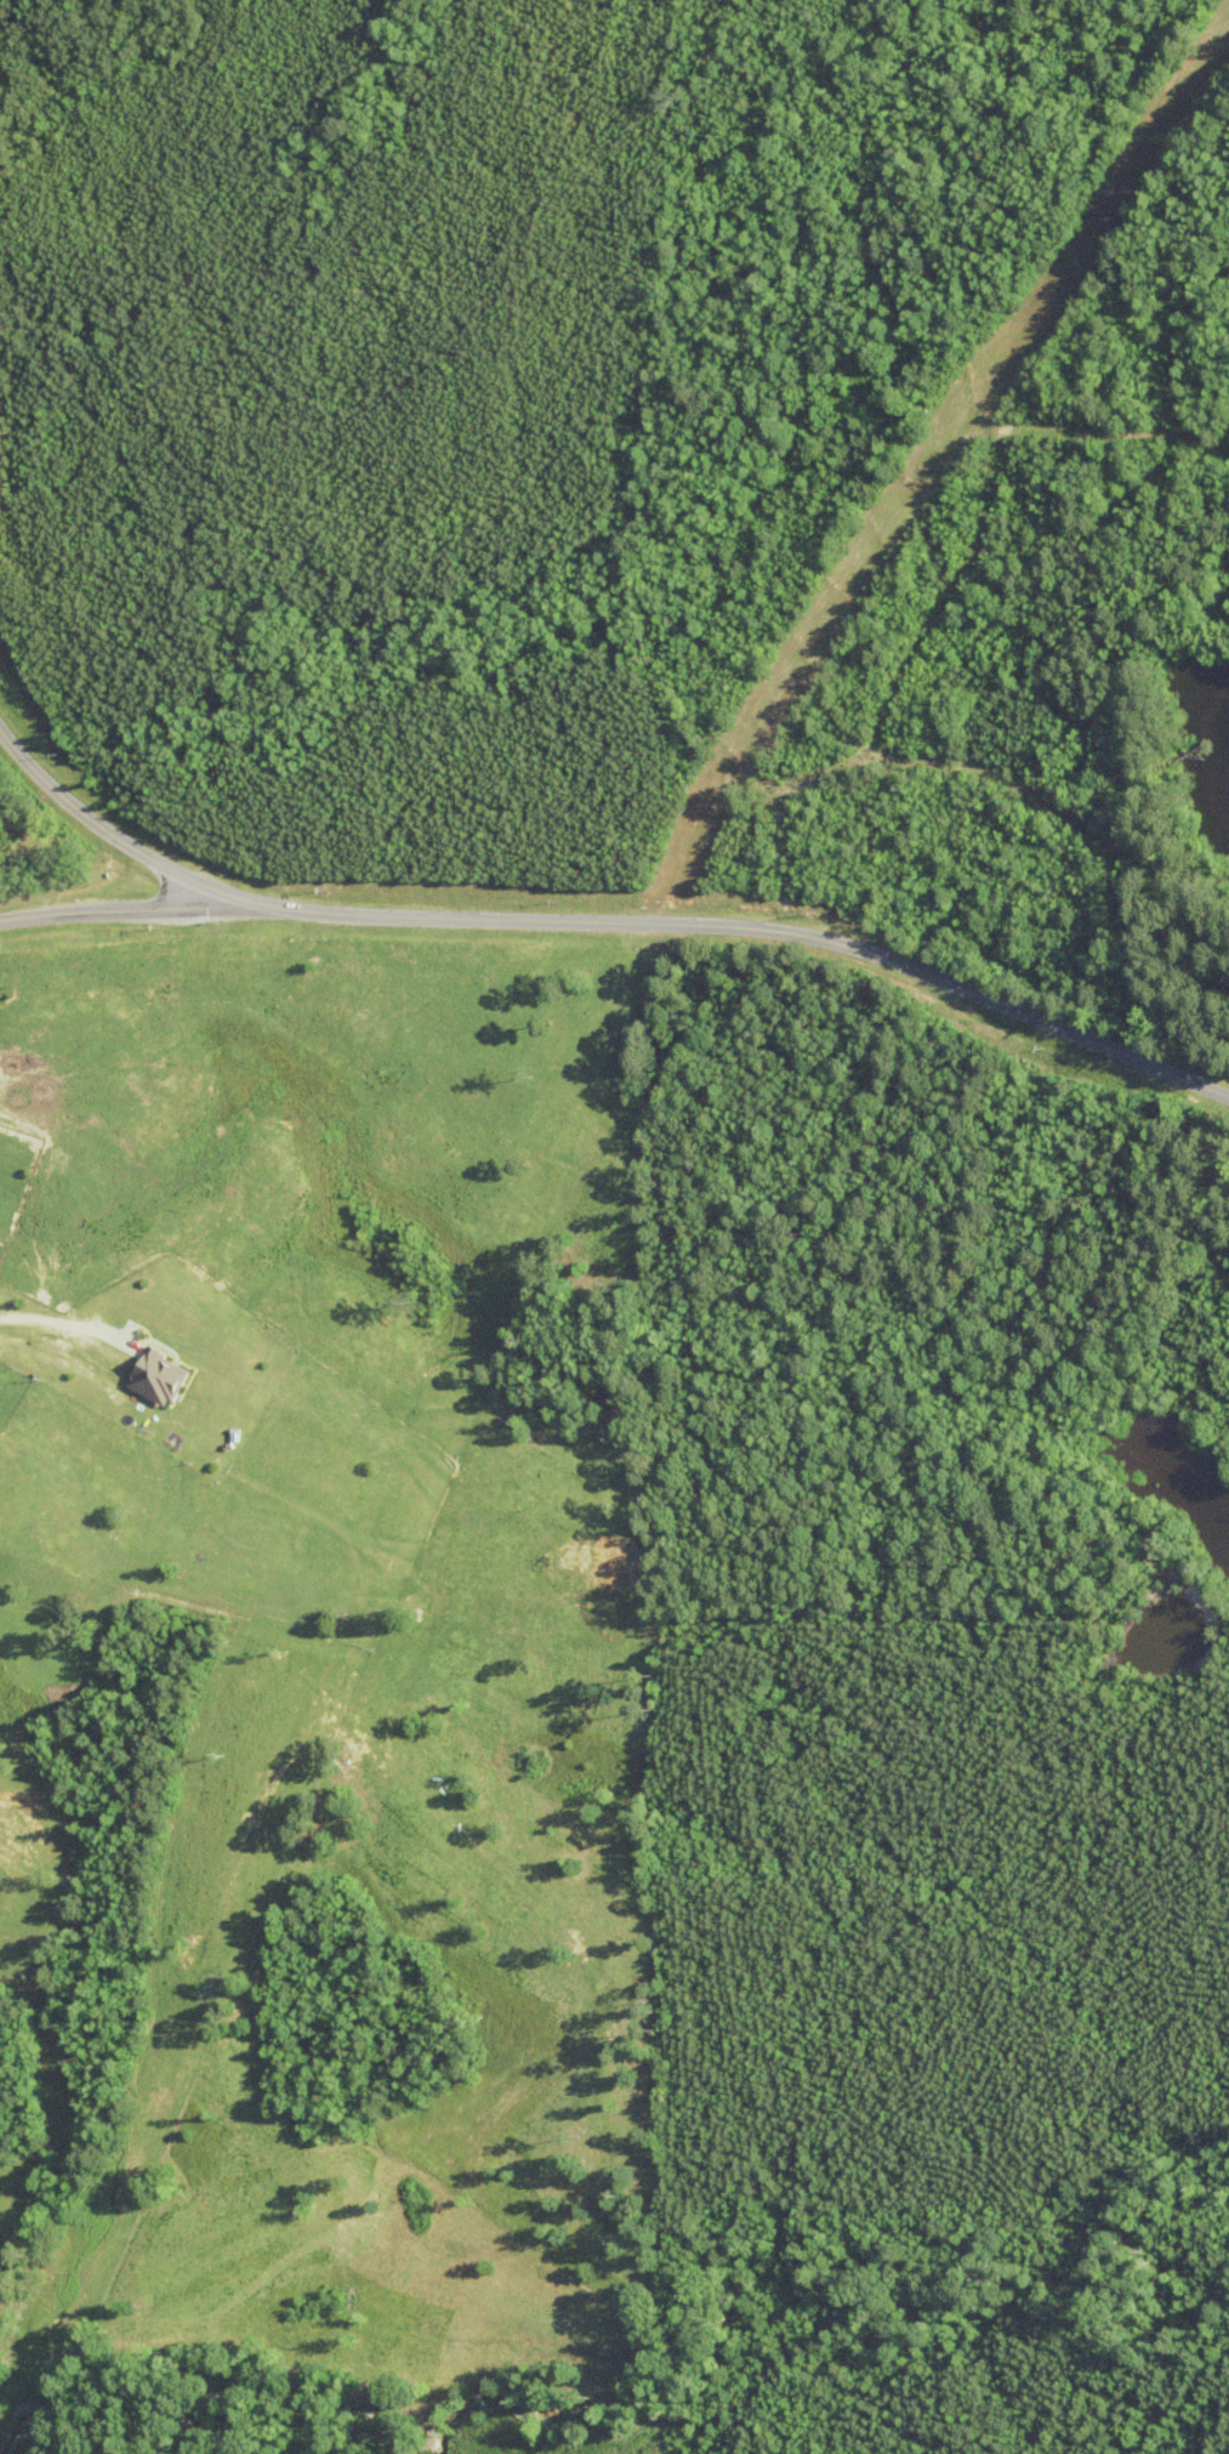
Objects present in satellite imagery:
road: (109, 910)
road: (602, 920)

